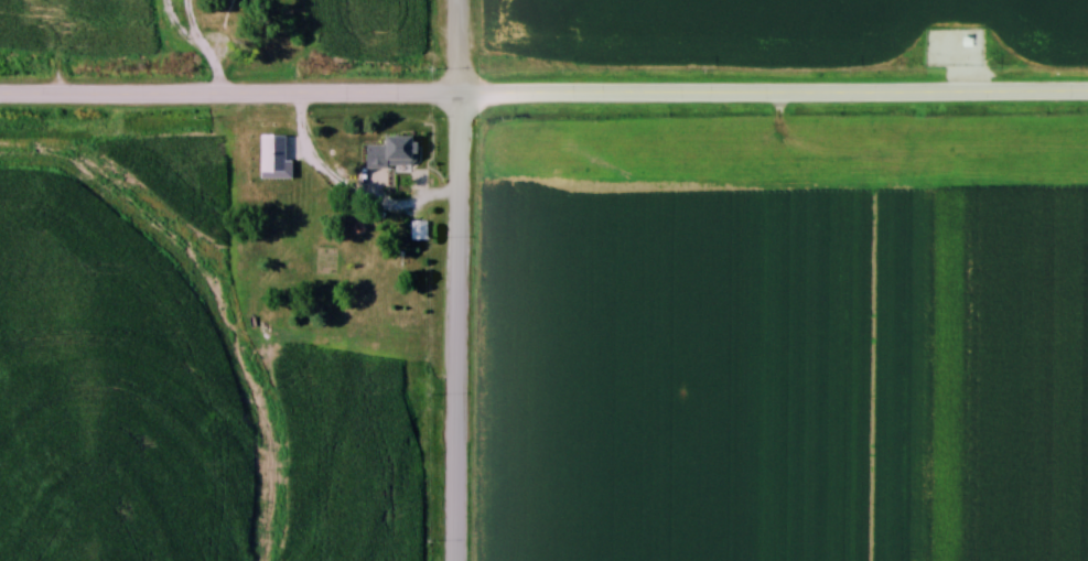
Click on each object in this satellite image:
building: (7, 7)
road: (205, 50)
road: (543, 99)
building: (391, 154)
road: (353, 191)
building: (418, 231)
road: (460, 280)

